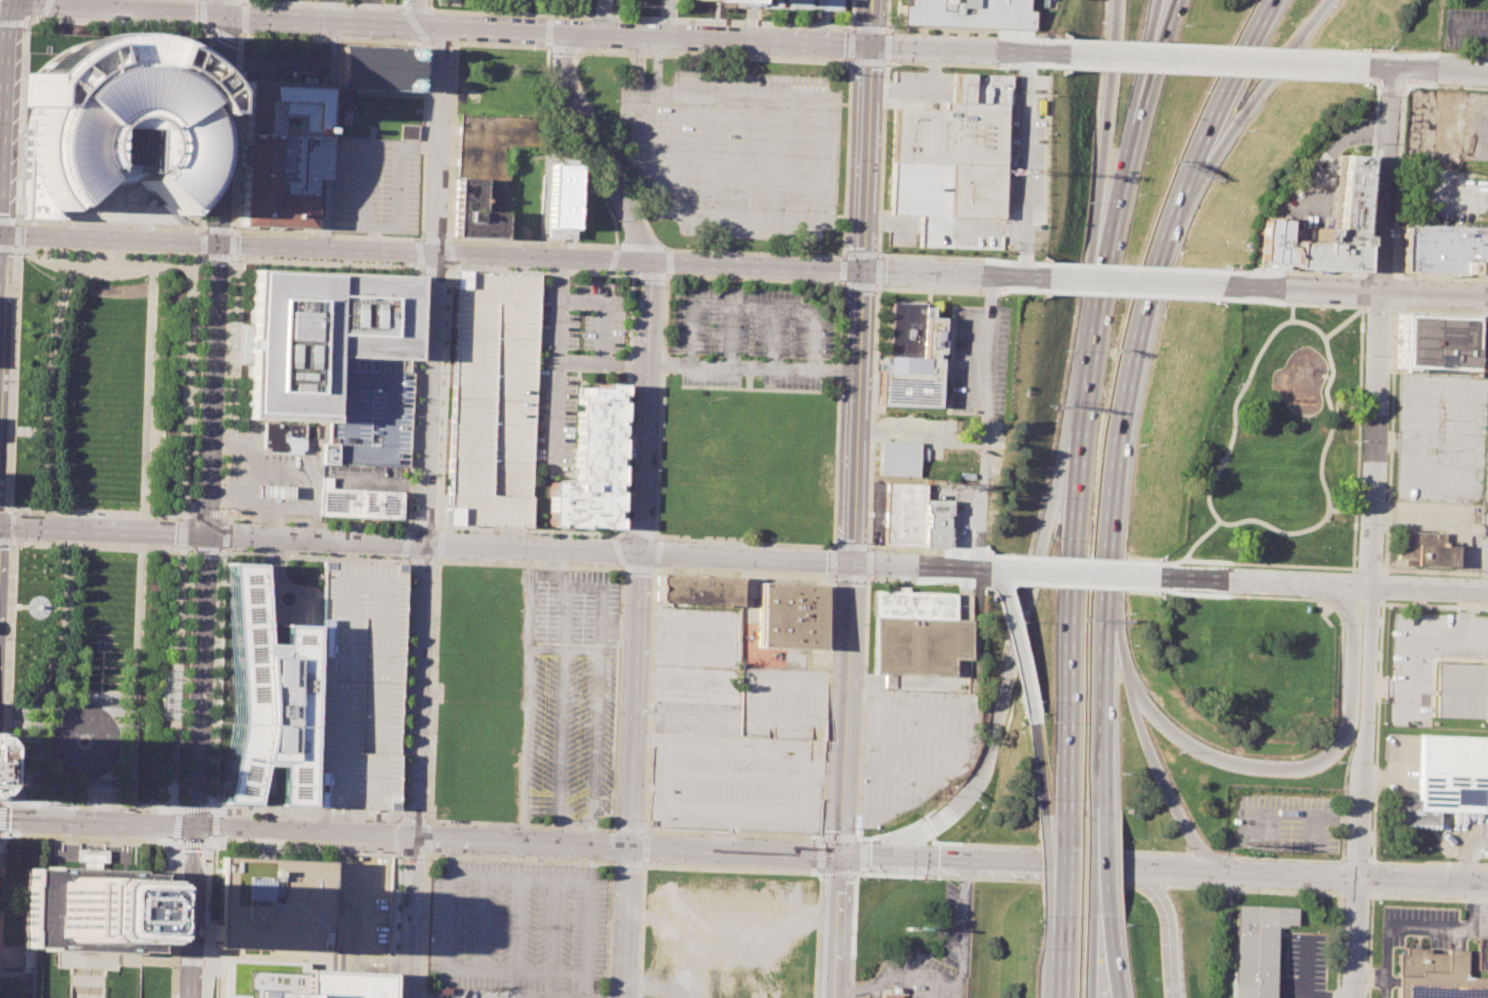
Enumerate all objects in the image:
road: (13, 2)
road: (70, 3)
road: (326, 3)
road: (429, 4)
building: (798, 4)
parking garage: (798, 4)
traffic signals: (13, 5)
road: (1164, 6)
road: (1167, 6)
road: (45, 7)
road: (226, 7)
road: (415, 7)
road: (113, 8)
road: (416, 12)
road: (201, 13)
building: (968, 13)
traffic signals: (226, 14)
road: (888, 14)
street lamp: (40, 17)
road: (42, 17)
road: (243, 17)
road: (654, 18)
road: (667, 18)
road: (868, 22)
road: (11, 23)
road: (24, 23)
road: (394, 24)
road: (414, 24)
parking lot: (1463, 29)
road: (1467, 29)
road: (548, 30)
road: (979, 31)
road: (224, 34)
road: (715, 38)
road: (441, 42)
road: (1218, 43)
traffic signals: (868, 45)
road: (966, 49)
road: (653, 51)
road: (1427, 52)
road: (852, 60)
road: (1213, 60)
parking lot: (286, 62)
road: (654, 64)
road: (640, 65)
road: (977, 65)
building: (376, 67)
road: (1424, 69)
road: (1214, 75)
road: (1269, 79)
road: (1381, 83)
road: (1445, 86)
road: (1107, 114)
road: (6, 119)
road: (1135, 121)
building: (171, 126)
building: (408, 131)
road: (330, 134)
road: (1024, 141)
road: (452, 142)
building: (112, 146)
road: (426, 147)
building: (281, 151)
building: (491, 152)
parking lot: (736, 152)
road: (864, 156)
road: (882, 158)
building: (953, 163)
road: (1434, 168)
road: (123, 183)
parking lot: (374, 185)
building: (561, 201)
building: (474, 212)
street lamp: (15, 216)
road: (815, 217)
road: (7, 221)
road: (18, 221)
road: (22, 221)
road: (614, 223)
building: (1335, 225)
road: (1397, 226)
road: (384, 228)
road: (203, 229)
road: (218, 229)
road: (233, 231)
road: (235, 231)
road: (1, 233)
traffic signals: (2, 234)
road: (17, 235)
road: (373, 238)
road: (433, 238)
road: (447, 240)
road: (202, 243)
traffic signals: (219, 243)
road: (232, 244)
building: (1270, 244)
road: (642, 246)
road: (1, 247)
road: (8, 248)
road: (18, 248)
road: (431, 251)
road: (1365, 251)
building: (1445, 251)
road: (739, 252)
road: (450, 255)
road: (202, 256)
road: (216, 256)
road: (231, 257)
road: (962, 257)
road: (613, 260)
road: (83, 264)
road: (177, 264)
road: (1, 265)
road: (1133, 265)
road: (420, 267)
road: (0, 272)
road: (952, 272)
road: (217, 273)
road: (629, 274)
road: (662, 275)
road: (1379, 276)
road: (1131, 281)
road: (430, 284)
road: (877, 284)
street lamp: (12, 289)
road: (960, 290)
road: (1353, 291)
road: (1127, 298)
road: (1286, 303)
road: (751, 307)
road: (1440, 310)
road: (1288, 312)
road: (1088, 332)
building: (318, 333)
road: (731, 337)
parking lot: (752, 339)
road: (773, 339)
road: (16, 340)
road: (986, 340)
building: (1440, 343)
road: (1327, 355)
road: (554, 356)
building: (909, 359)
parking lot: (976, 359)
parking lot: (570, 360)
road: (751, 368)
road: (1340, 368)
street lamp: (9, 380)
road: (185, 390)
road: (1124, 393)
building: (492, 399)
parking garage: (492, 399)
road: (146, 410)
road: (1358, 410)
building: (367, 411)
parking lot: (367, 411)
road: (853, 415)
road: (1229, 427)
road: (644, 429)
road: (46, 430)
road: (918, 435)
building: (283, 437)
parking lot: (1441, 438)
park: (1276, 441)
road: (1323, 444)
building: (897, 459)
building: (591, 462)
street lamp: (6, 472)
road: (10, 476)
parking lot: (1486, 476)
road: (869, 479)
road: (982, 487)
building: (274, 491)
road: (1386, 492)
building: (339, 503)
building: (380, 504)
road: (2, 509)
road: (9, 509)
street lamp: (59, 514)
building: (911, 515)
street lamp: (152, 518)
road: (412, 523)
road: (424, 523)
road: (436, 524)
road: (10, 526)
road: (410, 526)
park: (104, 527)
road: (102, 529)
road: (442, 530)
traffic signals: (206, 533)
road: (1368, 533)
road: (639, 535)
road: (1198, 538)
road: (4, 540)
road: (11, 541)
road: (76, 543)
road: (439, 543)
road: (527, 546)
road: (831, 546)
building: (1423, 548)
road: (223, 549)
road: (277, 555)
road: (1075, 555)
road: (437, 559)
road: (421, 560)
road: (436, 560)
road: (1282, 564)
road: (919, 565)
road: (1353, 568)
road: (638, 569)
road: (653, 569)
road: (1366, 569)
road: (1381, 570)
road: (1072, 572)
road: (1383, 572)
road: (832, 577)
street lamp: (832, 580)
street lamp: (942, 580)
street lamp: (868, 581)
road: (928, 581)
road: (1321, 582)
road: (1381, 586)
building: (695, 589)
road: (1072, 589)
street lamp: (1244, 598)
road: (1309, 599)
road: (1351, 599)
street lamp: (1313, 601)
street lamp: (1384, 603)
street lamp: (1477, 606)
road: (1464, 613)
road: (1023, 614)
road: (297, 615)
building: (788, 615)
street lamp: (1338, 623)
road: (1070, 625)
building: (913, 631)
street lamp: (5, 638)
road: (1410, 641)
road: (136, 656)
road: (1016, 658)
street lamp: (861, 664)
road: (176, 679)
road: (217, 679)
road: (7, 680)
street lamp: (1231, 684)
street lamp: (1315, 684)
building: (358, 685)
parking garage: (358, 685)
road: (1388, 687)
road: (402, 689)
building: (1462, 690)
parking lot: (572, 697)
building: (263, 700)
street lamp: (1380, 701)
road: (844, 707)
road: (14, 716)
road: (21, 722)
street lamp: (1286, 722)
road: (1376, 729)
parking lot: (733, 734)
road: (860, 742)
road: (1143, 747)
street lamp: (825, 750)
road: (1309, 764)
road: (198, 765)
road: (412, 770)
building: (1451, 773)
road: (1038, 780)
street lamp: (0, 787)
flagpole: (88, 787)
flagpole: (96, 787)
flagpole: (104, 787)
street lamp: (945, 794)
road: (3, 802)
street lamp: (1342, 802)
road: (1343, 804)
road: (157, 808)
road: (196, 809)
road: (211, 810)
road: (2, 811)
road: (181, 811)
street lamp: (424, 811)
road: (1301, 812)
street lamp: (261, 815)
road: (397, 819)
road: (98, 820)
road: (411, 820)
road: (395, 821)
road: (424, 821)
parking lot: (1287, 821)
street lamp: (382, 822)
road: (210, 823)
road: (426, 823)
traffic signals: (196, 825)
road: (1, 826)
street lamp: (501, 827)
street lamp: (856, 828)
road: (926, 829)
road: (619, 830)
road: (925, 830)
road: (302, 831)
road: (394, 836)
street lamp: (858, 836)
road: (180, 837)
road: (425, 837)
street lamp: (737, 837)
road: (210, 838)
road: (847, 838)
road: (857, 838)
road: (90, 839)
road: (520, 840)
road: (225, 841)
street lamp: (219, 843)
road: (820, 843)
road: (205, 844)
street lamp: (1015, 847)
road: (1059, 847)
street lamp: (181, 848)
street lamp: (334, 849)
road: (735, 849)
road: (435, 850)
road: (394, 852)
road: (459, 852)
road: (425, 853)
street lamp: (440, 853)
road: (644, 853)
road: (396, 854)
road: (410, 854)
traffic signals: (841, 854)
road: (423, 855)
road: (855, 855)
road: (857, 855)
road: (1211, 855)
road: (1470, 855)
traffic signals: (874, 856)
road: (448, 857)
road: (513, 858)
street lamp: (560, 858)
road: (1286, 858)
street lamp: (398, 859)
street lamp: (1339, 859)
road: (1355, 861)
road: (611, 862)
road: (996, 862)
road: (1043, 862)
road: (627, 863)
street lamp: (656, 863)
road: (399, 864)
road: (1098, 864)
road: (1428, 864)
road: (644, 865)
road: (1062, 865)
road: (728, 868)
street lamp: (642, 870)
street lamp: (807, 870)
road: (819, 871)
road: (837, 872)
road: (1, 874)
road: (855, 874)
street lamp: (820, 876)
road: (1303, 877)
road: (562, 881)
road: (1171, 887)
street lamp: (1439, 896)
street lamp: (1374, 898)
road: (346, 901)
building: (270, 904)
parking lot: (360, 904)
road: (1469, 906)
building: (88, 907)
street lamp: (179, 910)
road: (176, 911)
road: (360, 914)
road: (393, 914)
street lamp: (421, 917)
street lamp: (611, 920)
road: (175, 921)
road: (628, 921)
road: (480, 923)
road: (1166, 923)
road: (516, 924)
road: (1399, 924)
road: (837, 925)
road: (552, 926)
parking lot: (1419, 926)
road: (392, 927)
parking lot: (518, 927)
road: (1098, 927)
road: (1051, 933)
road: (852, 935)
road: (964, 936)
road: (1059, 936)
road: (640, 939)
road: (1337, 945)
road: (1370, 946)
road: (221, 949)
building: (1255, 949)
road: (327, 952)
building: (1481, 952)
road: (235, 956)
road: (252, 957)
street lamp: (850, 957)
road: (298, 958)
road: (381, 958)
parking lot: (930, 958)
building: (26, 959)
road: (96, 959)
road: (148, 960)
road: (176, 960)
road: (189, 960)
road: (351, 961)
road: (203, 962)
road: (211, 962)
road: (226, 963)
road: (356, 964)
street lamp: (177, 965)
road: (350, 967)
parking lot: (1303, 967)
road: (383, 968)
road: (481, 969)
street lamp: (638, 969)
road: (1092, 969)
road: (1109, 969)
road: (363, 971)
building: (1436, 975)
road: (228, 976)
road: (1057, 976)
road: (890, 978)
road: (1369, 978)
building: (228, 979)
street lamp: (1334, 981)
building: (302, 982)
street lamp: (394, 983)
road: (390, 985)
parking lot: (466, 992)
road: (1305, 993)
road: (566, 996)
building: (892, 996)
road: (583, 997)

